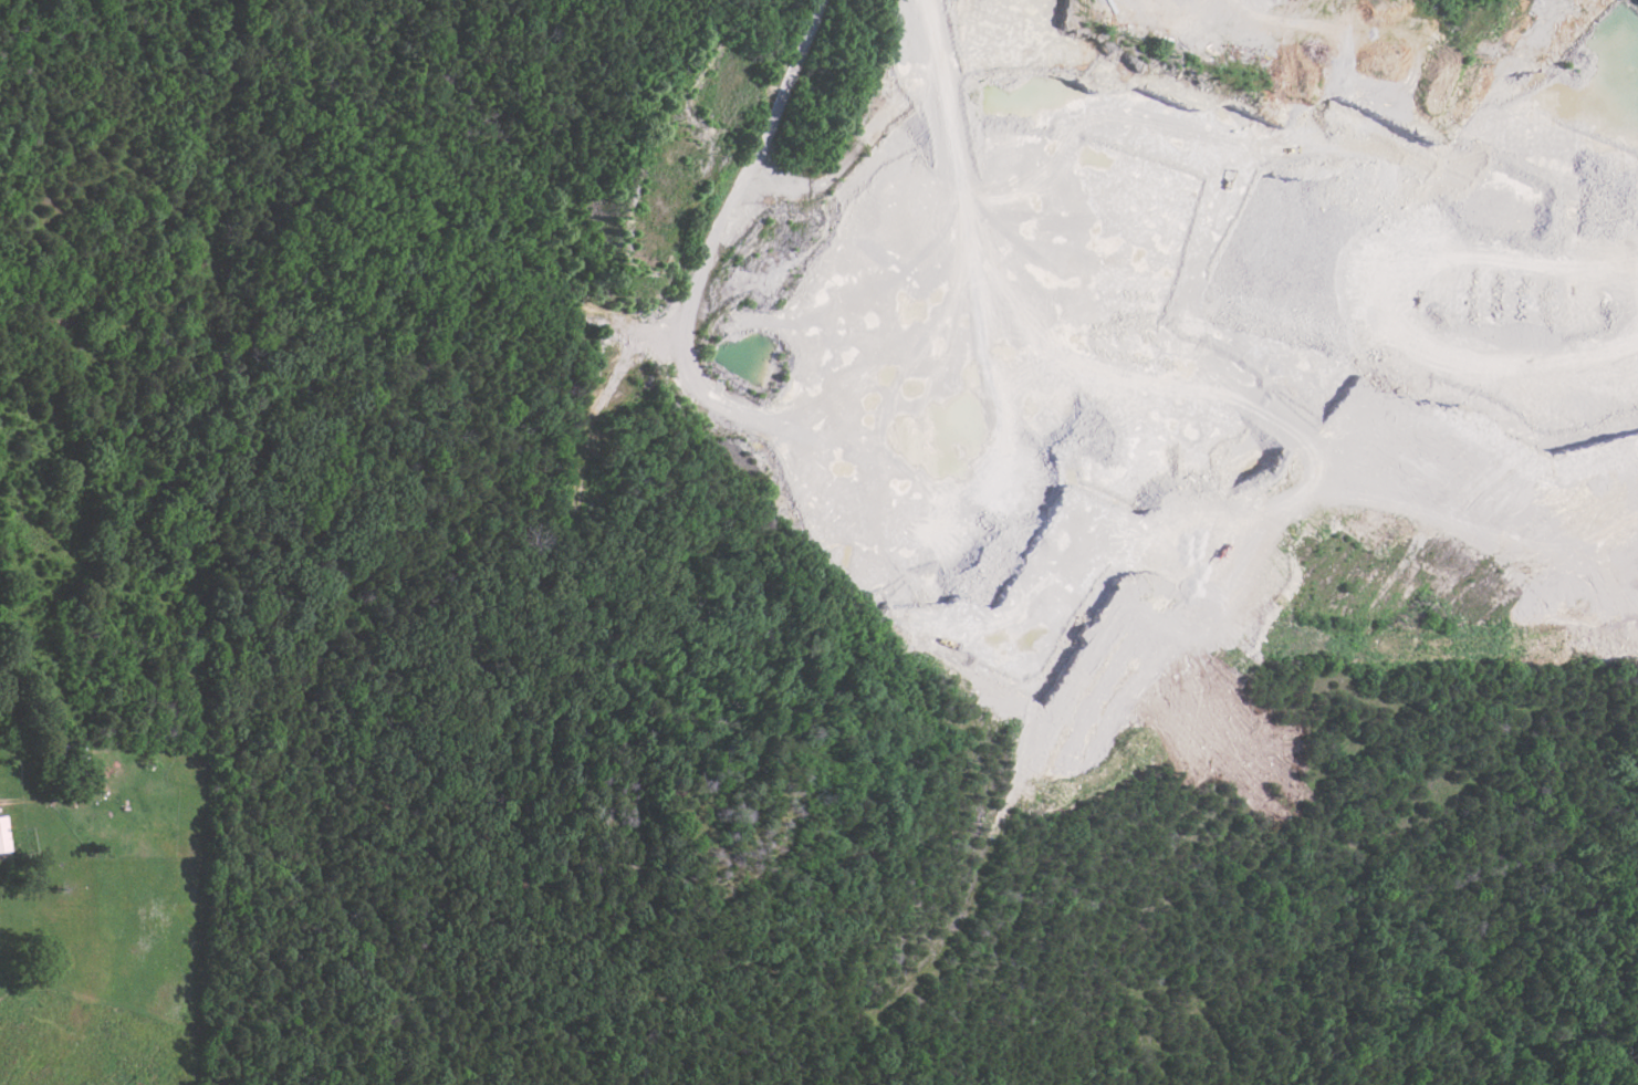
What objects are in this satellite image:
road: (949, 77)
road: (709, 246)
quarry: (1159, 324)
building: (3, 835)

